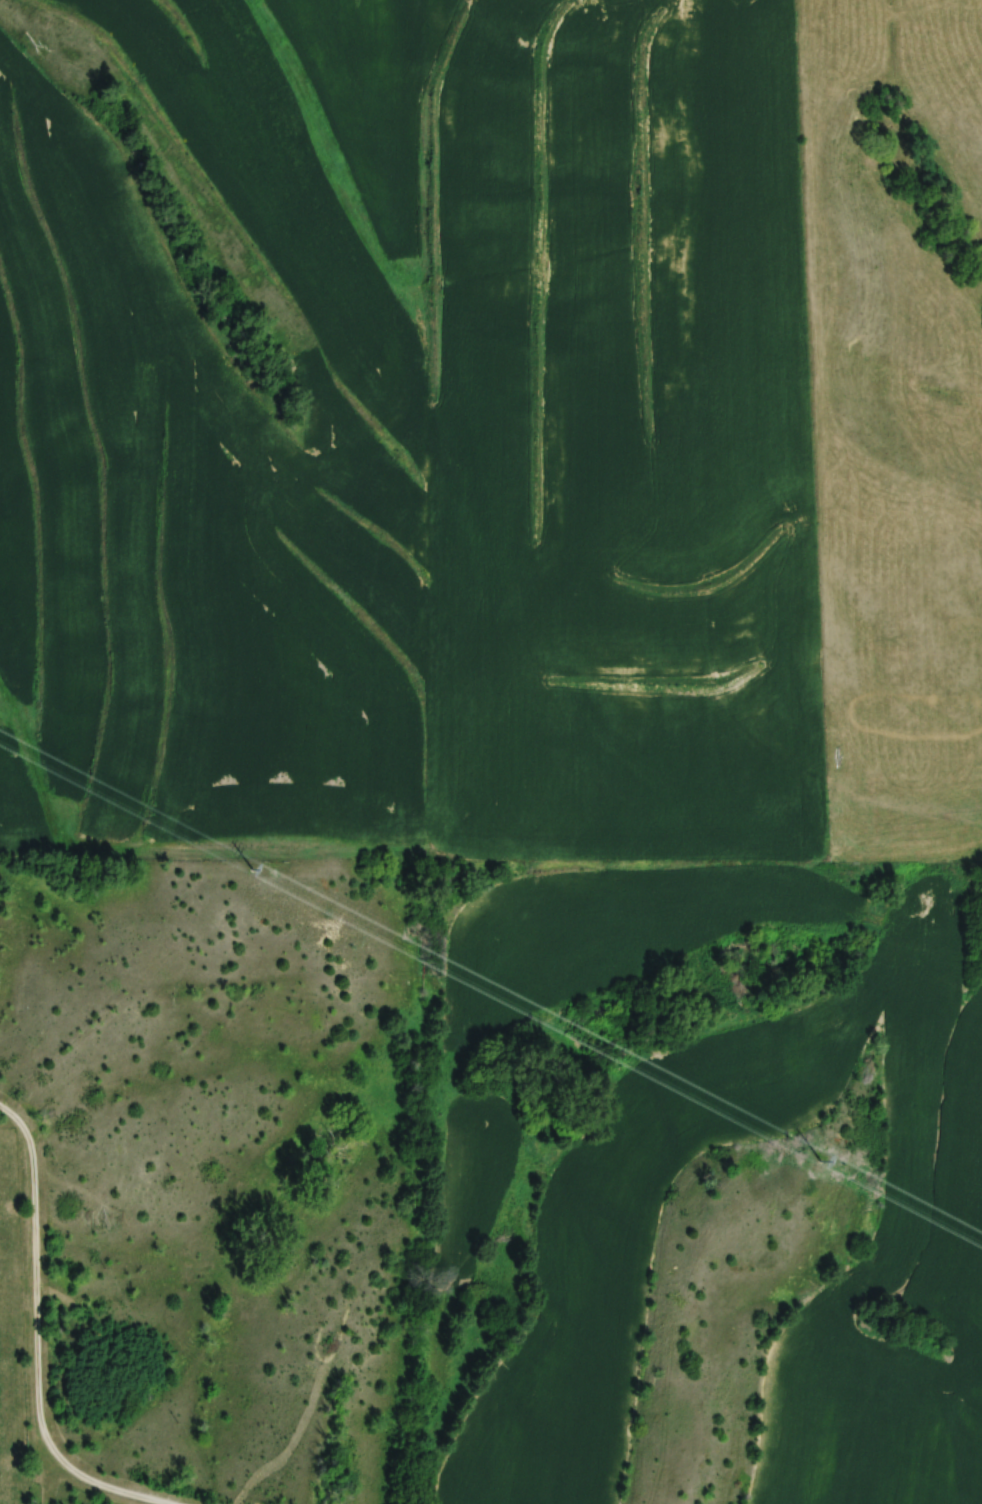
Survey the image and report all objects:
power tower: (254, 869)
power tower: (824, 1163)
road: (32, 1337)

